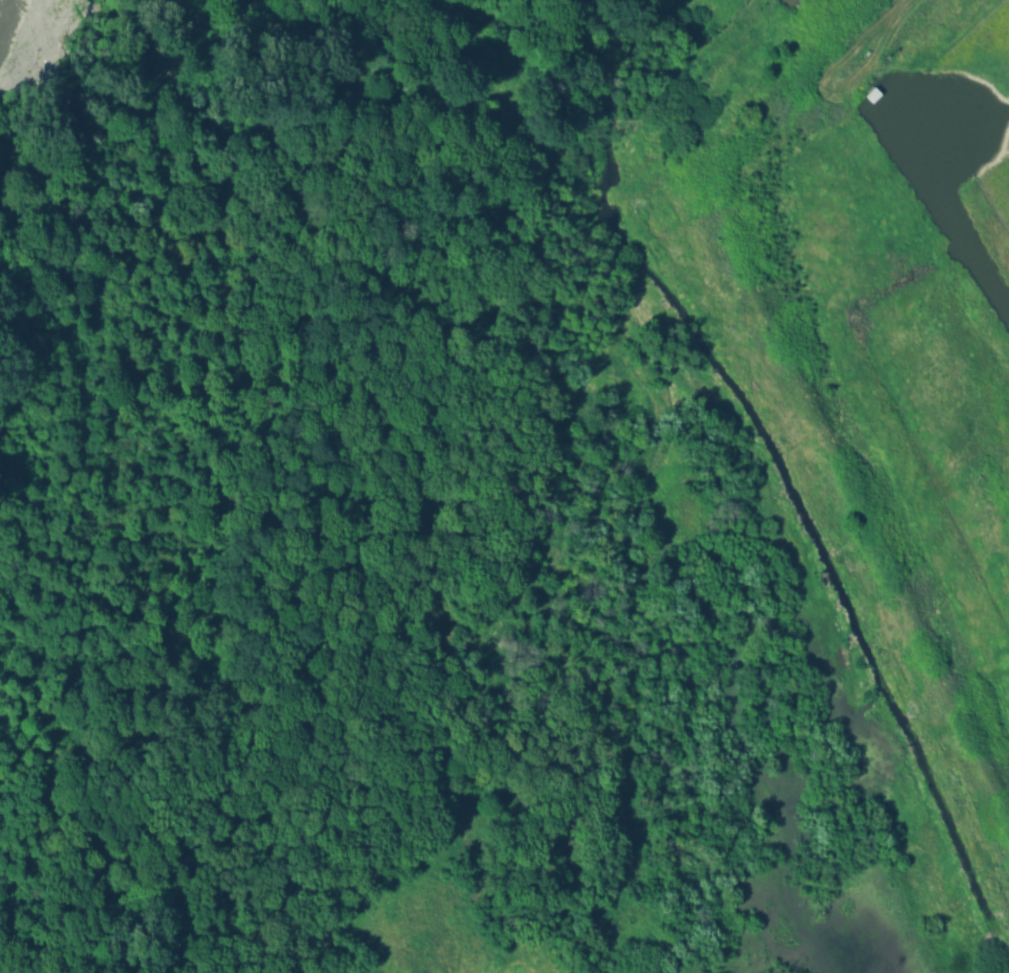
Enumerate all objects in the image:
road: (890, 24)

